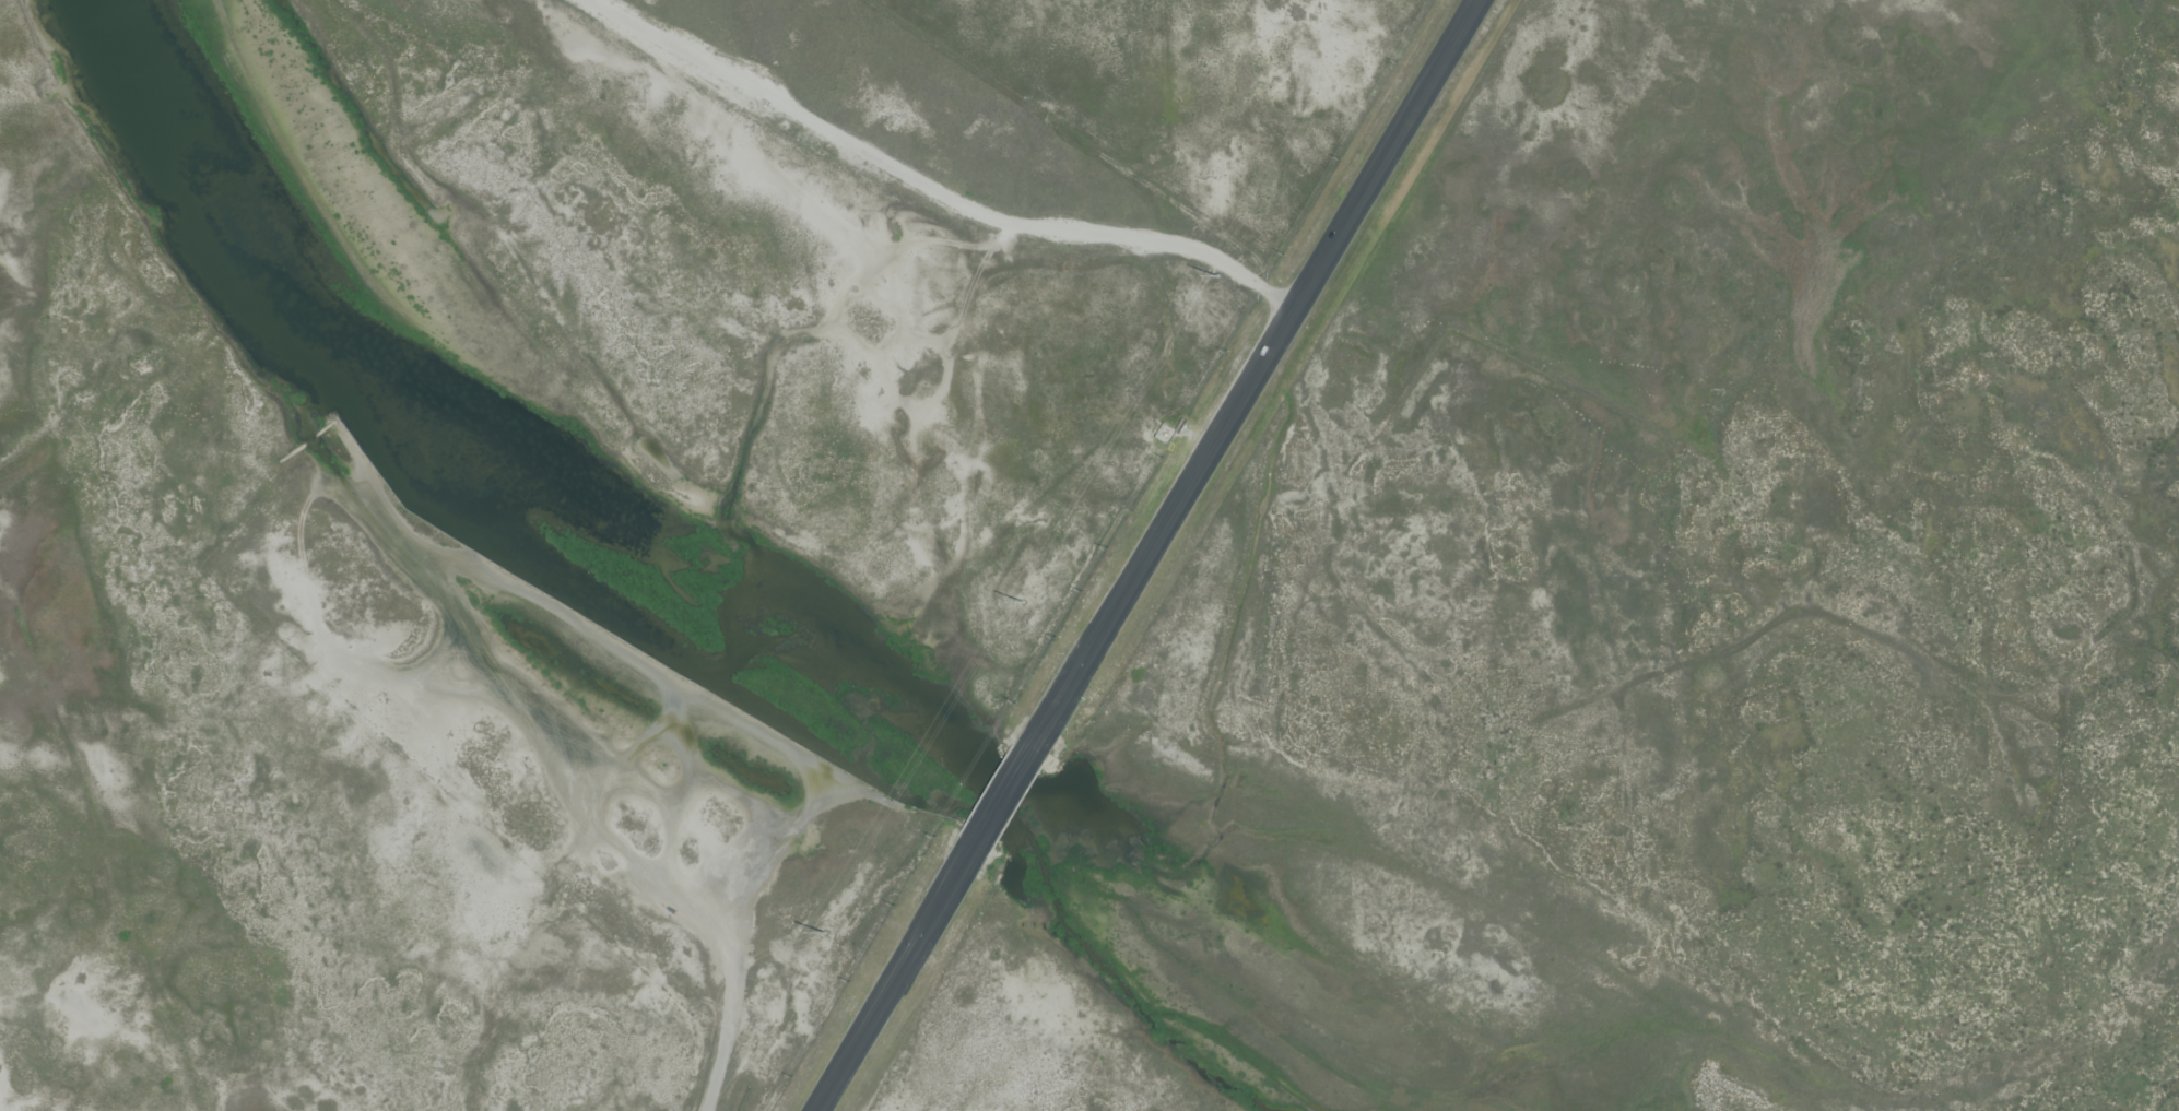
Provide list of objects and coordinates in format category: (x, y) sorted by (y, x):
road: (928, 188)
power tower: (1217, 280)
river: (295, 353)
road: (1250, 378)
park: (568, 499)
power tower: (1023, 604)
park: (1666, 617)
road: (999, 800)
road: (705, 925)
power tower: (825, 933)
road: (895, 978)
road: (722, 1039)

